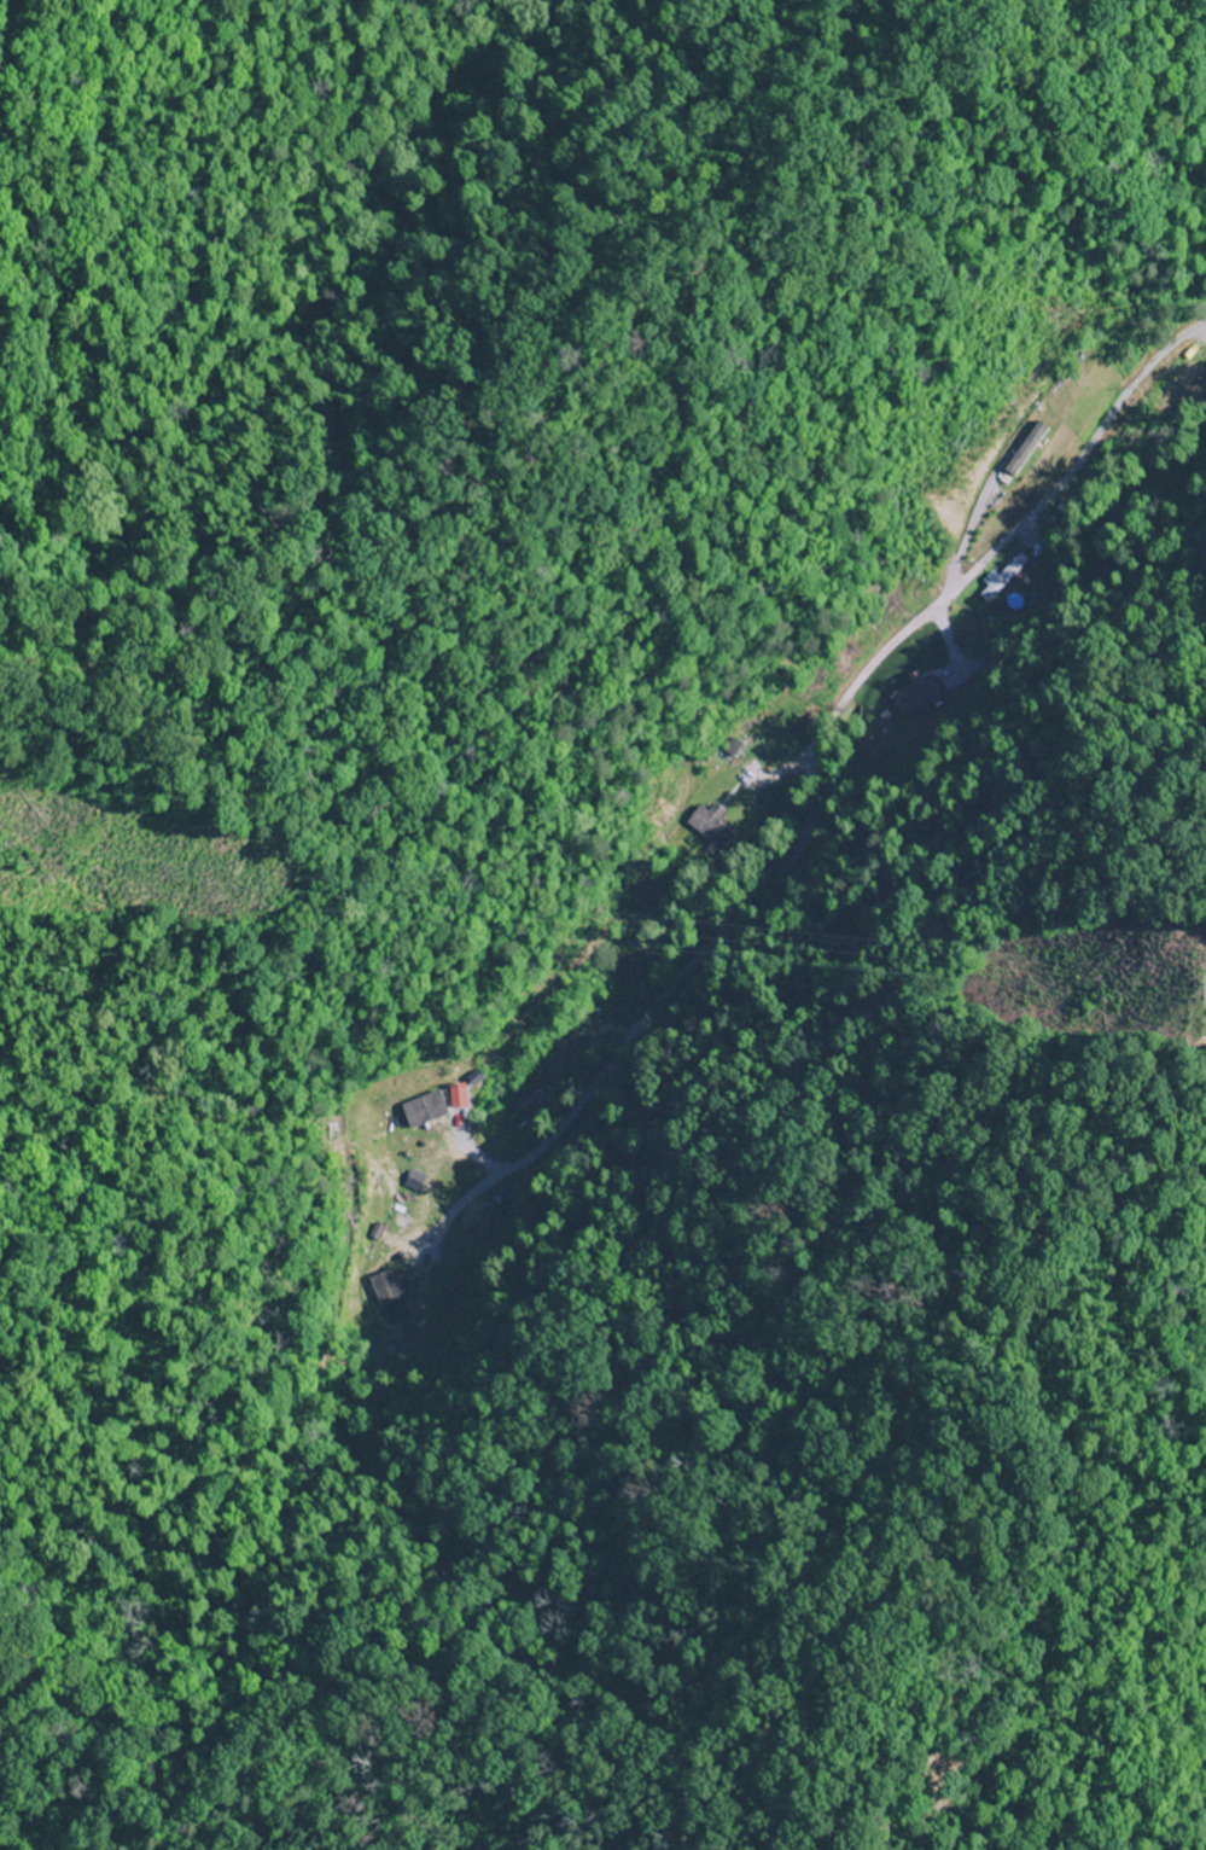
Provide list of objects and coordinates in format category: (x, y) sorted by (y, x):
building: (1023, 449)
road: (997, 547)
building: (1002, 577)
building: (913, 696)
building: (711, 826)
building: (424, 1110)
building: (389, 1297)

